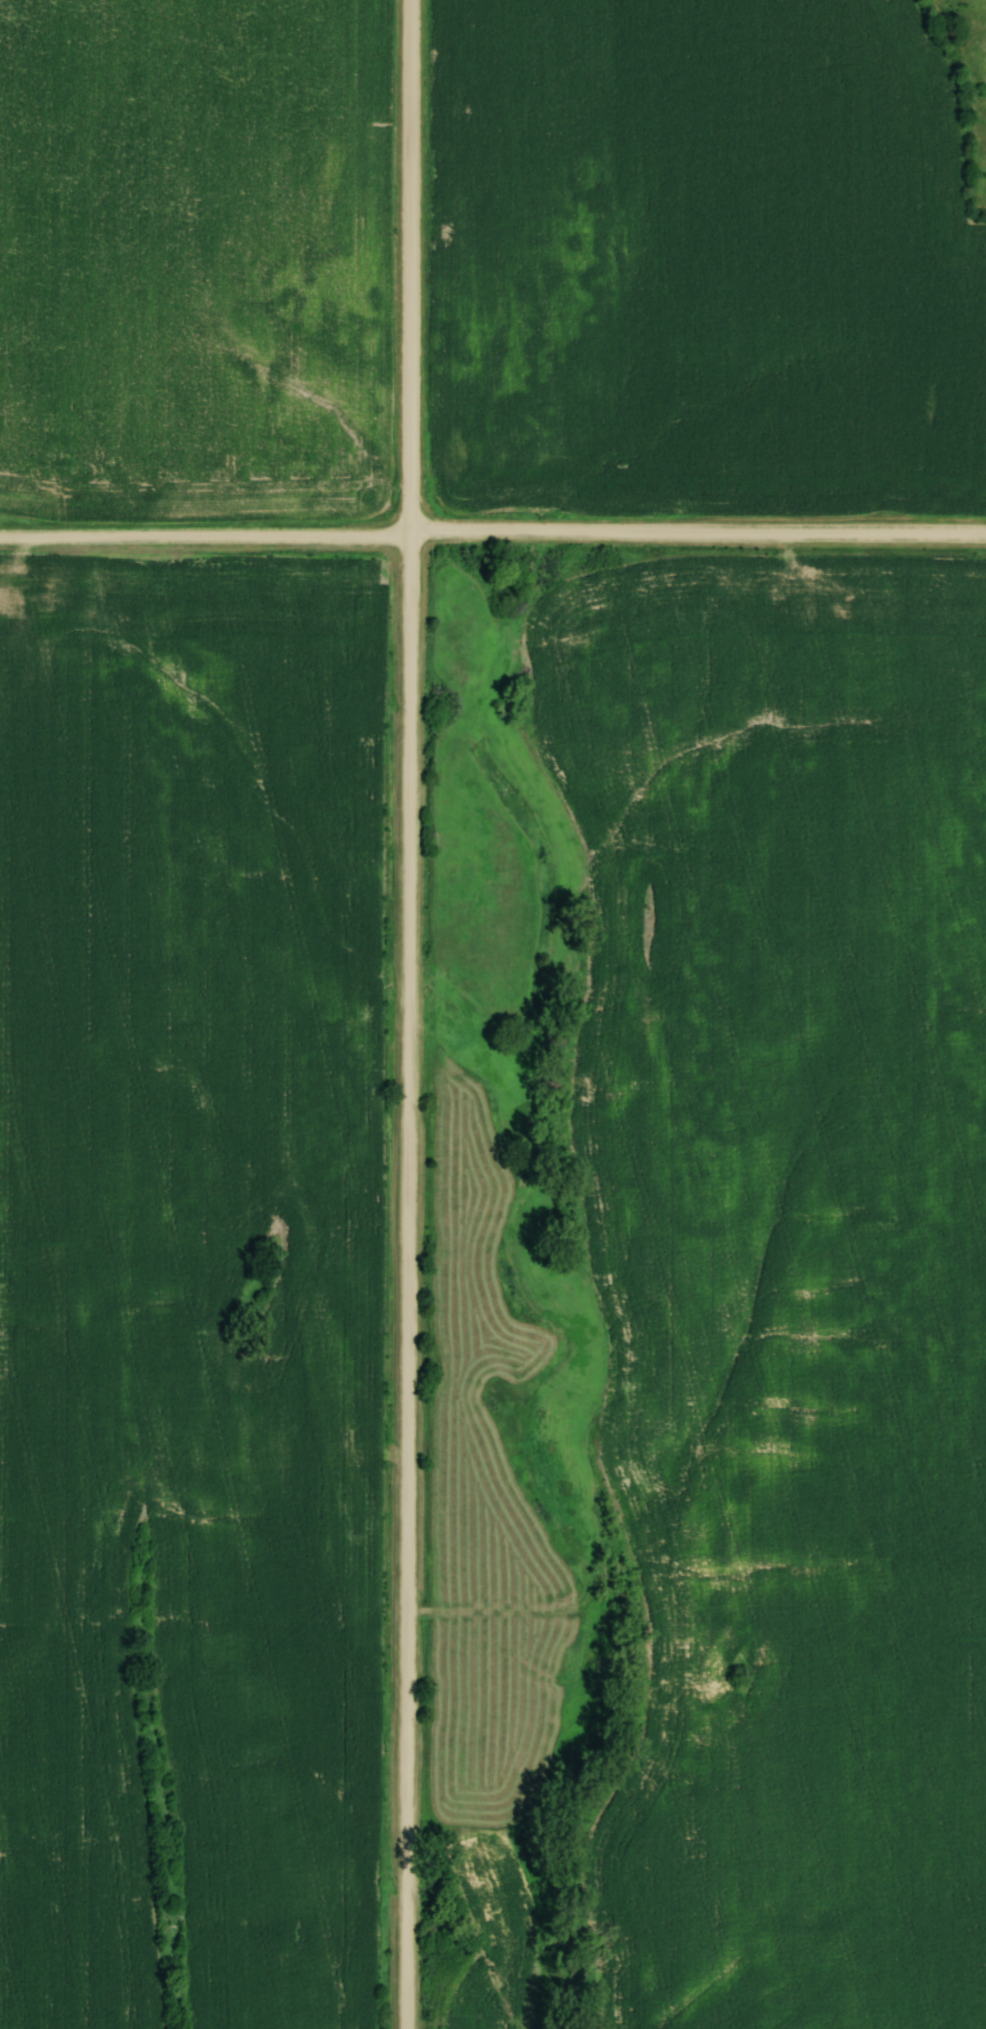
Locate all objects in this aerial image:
road: (492, 533)
road: (406, 1014)

